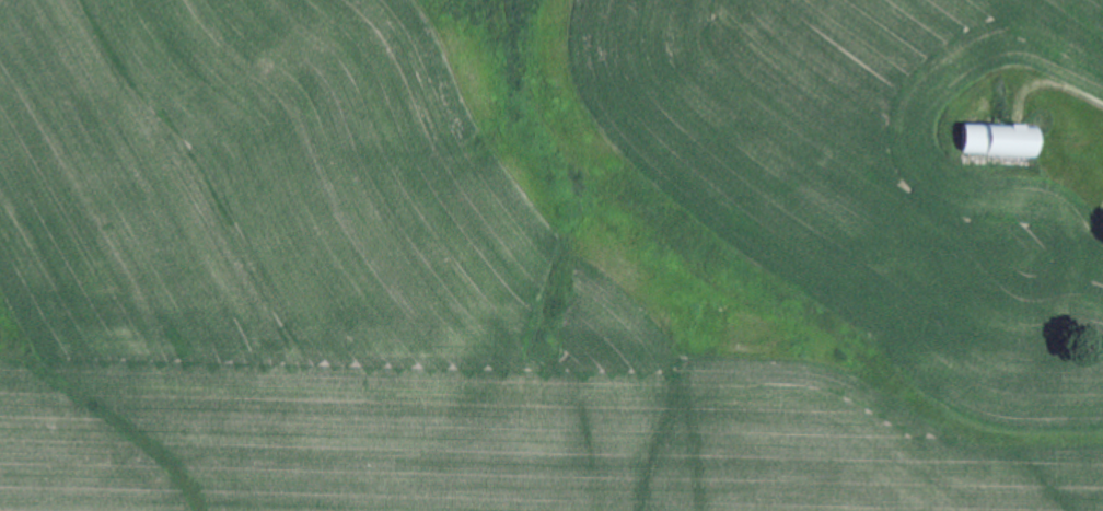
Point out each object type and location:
road: (1056, 91)
building: (991, 139)

